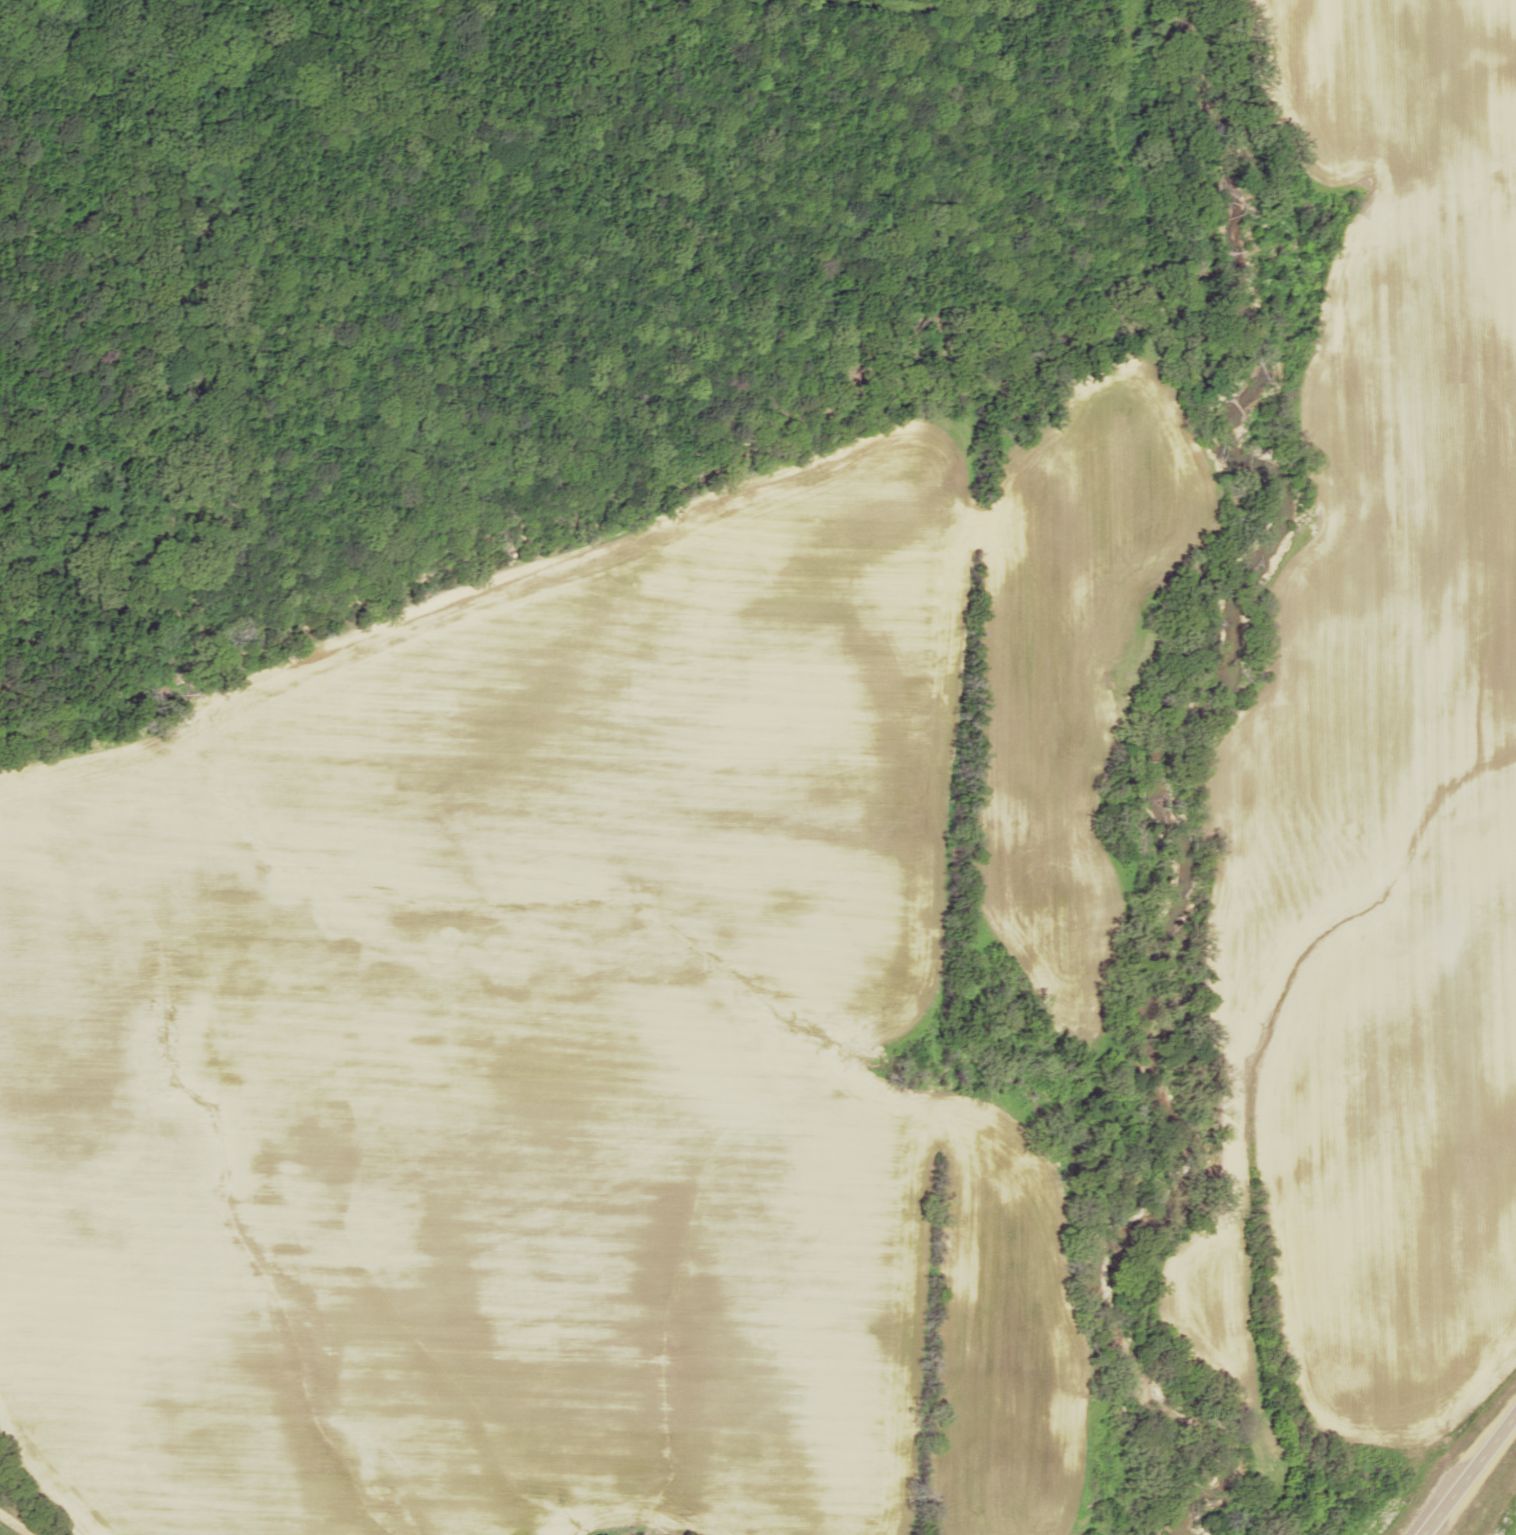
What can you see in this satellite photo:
road: (1467, 1471)

